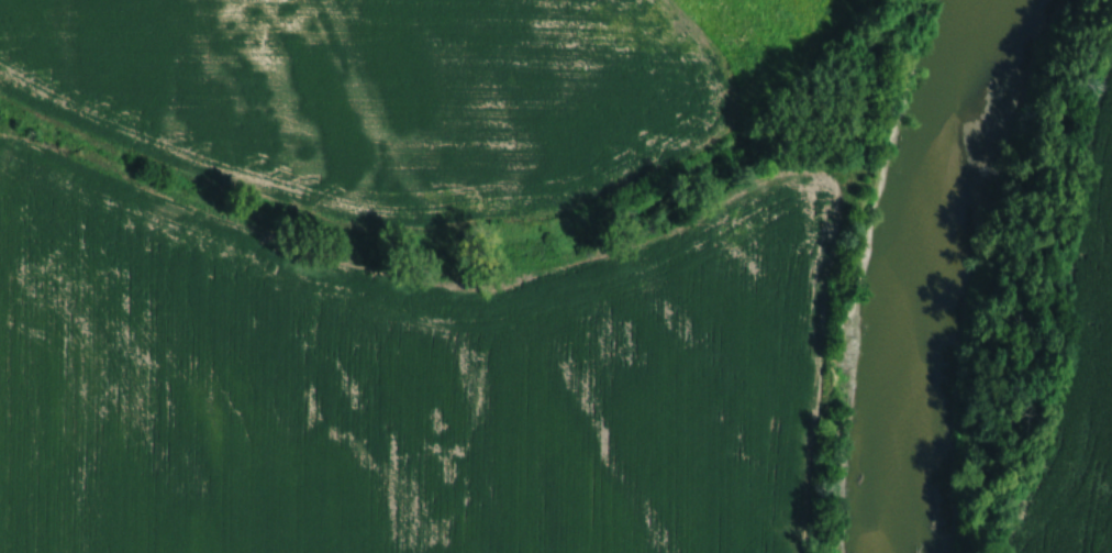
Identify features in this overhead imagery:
river: (922, 270)

